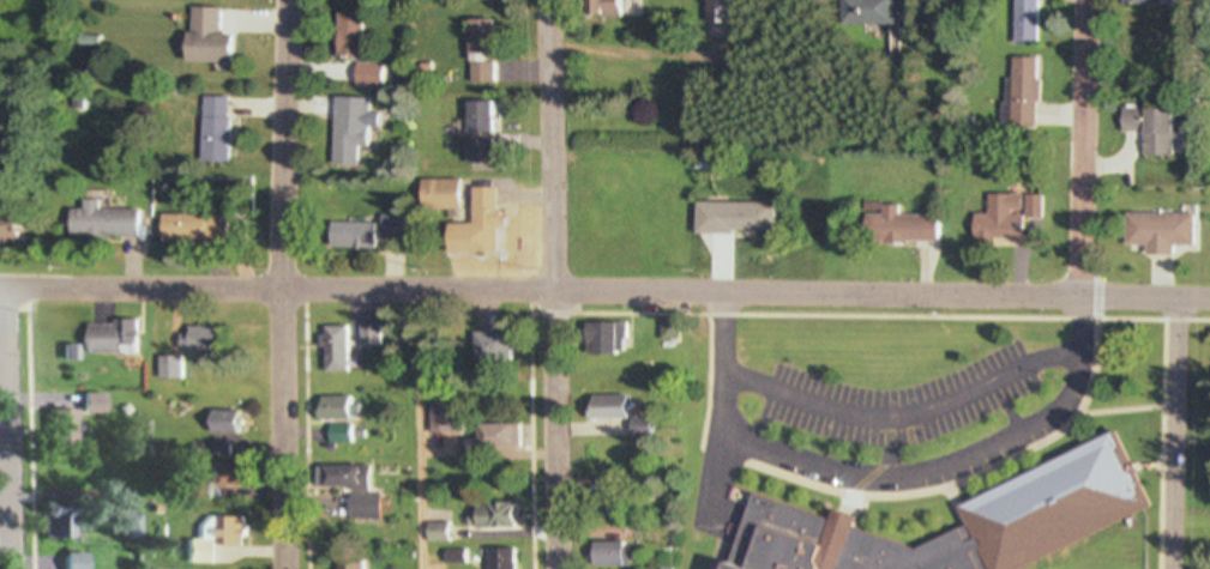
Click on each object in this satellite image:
building: (1166, 4)
building: (622, 8)
building: (877, 12)
building: (1030, 23)
building: (215, 36)
building: (354, 36)
park: (32, 44)
building: (486, 52)
building: (373, 75)
building: (614, 81)
building: (1023, 95)
building: (221, 129)
building: (355, 129)
building: (1158, 131)
building: (486, 135)
road: (1083, 149)
building: (472, 207)
building: (744, 217)
building: (108, 222)
building: (1003, 223)
building: (907, 225)
building: (16, 228)
building: (199, 229)
building: (1166, 231)
building: (359, 234)
road: (279, 284)
road: (553, 284)
road: (604, 289)
road: (1097, 298)
road: (550, 315)
road: (892, 316)
building: (621, 337)
building: (341, 345)
parking lot: (896, 401)
building: (614, 407)
building: (341, 410)
road: (904, 416)
building: (444, 418)
road: (14, 425)
road: (416, 428)
road: (1175, 434)
building: (502, 435)
road: (528, 442)
road: (1158, 443)
building: (621, 461)
road: (967, 478)
road: (881, 479)
building: (366, 489)
building: (1064, 498)
building: (496, 515)
building: (221, 527)
building: (630, 527)
building: (615, 555)
building: (506, 559)
building: (80, 561)
building: (355, 565)

